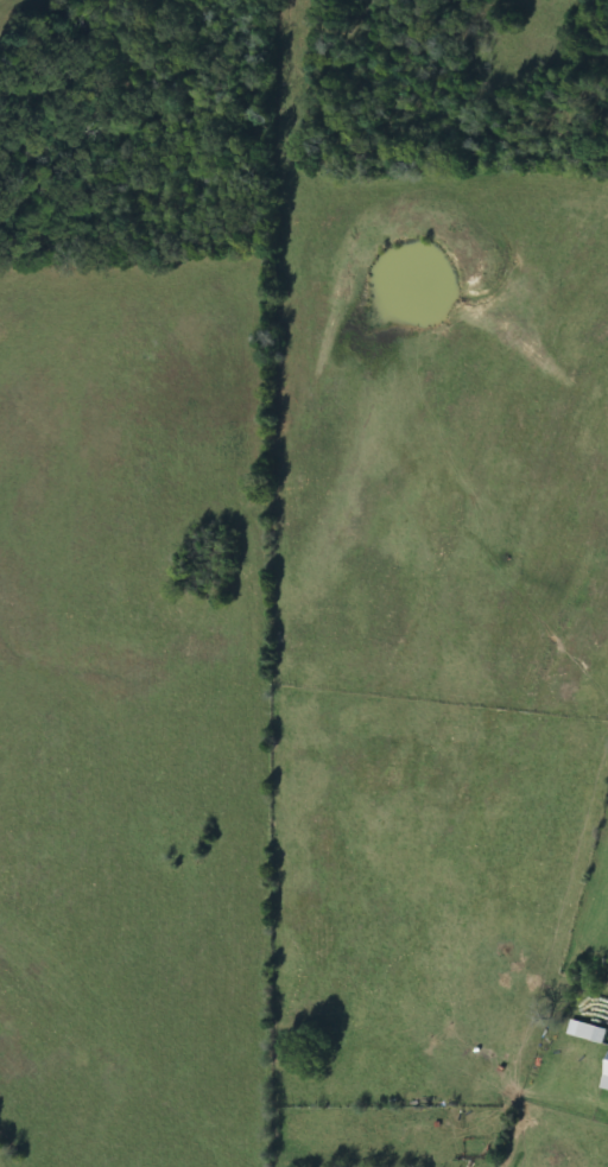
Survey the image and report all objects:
building: (590, 1033)
road: (258, 1120)

